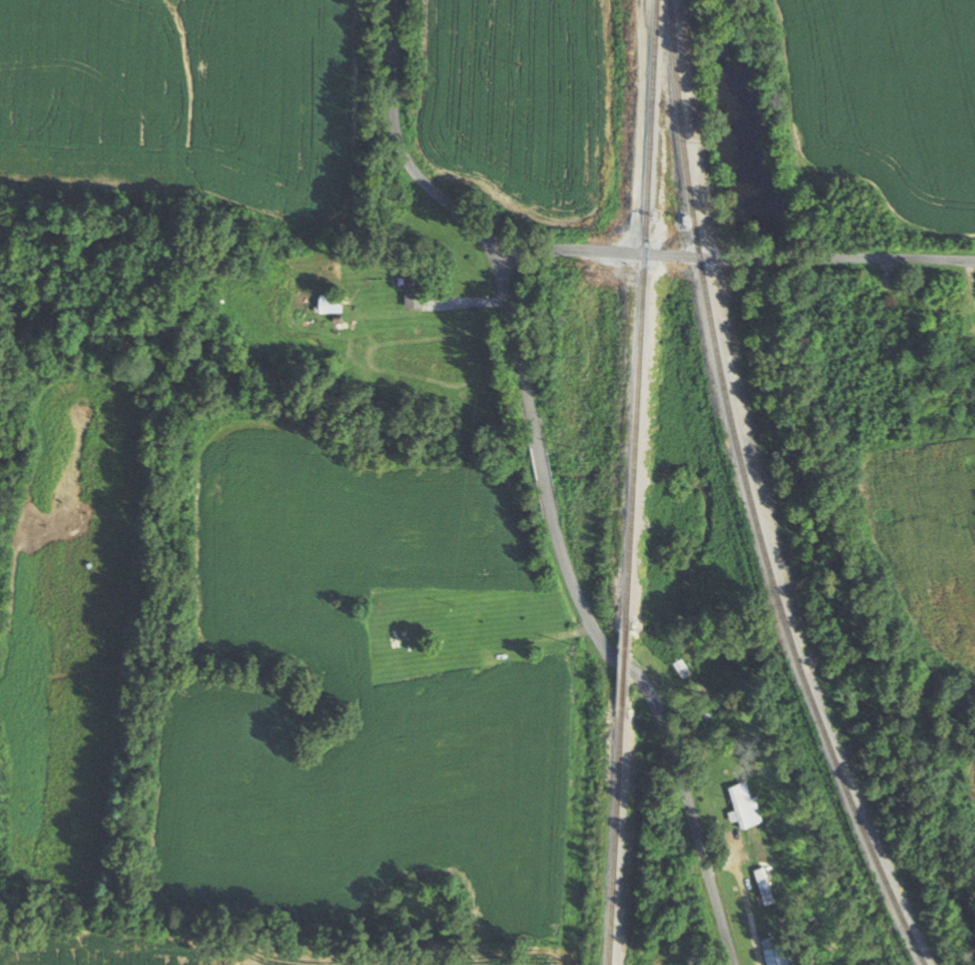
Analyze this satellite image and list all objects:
road: (845, 255)
building: (418, 285)
building: (333, 304)
railway: (644, 313)
road: (546, 486)
railway: (757, 495)
railway: (627, 666)
building: (744, 805)
railway: (618, 836)
building: (765, 886)
building: (782, 951)

